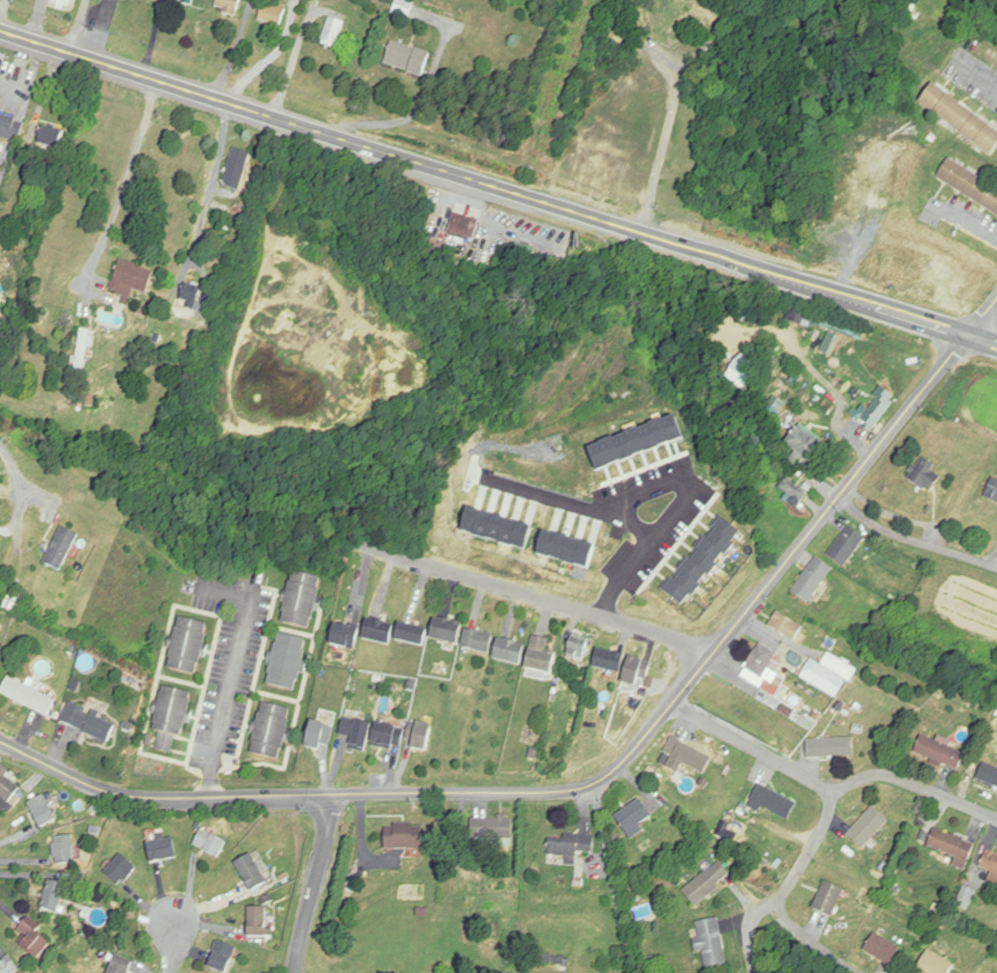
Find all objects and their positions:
building: (186, 2)
building: (64, 3)
building: (230, 7)
building: (404, 7)
road: (3, 8)
building: (273, 14)
road: (38, 20)
road: (80, 26)
building: (334, 33)
road: (149, 37)
road: (234, 49)
building: (408, 59)
road: (268, 62)
road: (975, 75)
road: (672, 108)
building: (962, 117)
building: (11, 127)
building: (237, 170)
building: (970, 184)
road: (127, 185)
road: (208, 185)
road: (498, 187)
road: (964, 219)
building: (131, 280)
building: (189, 300)
road: (982, 317)
building: (799, 318)
building: (82, 349)
building: (746, 368)
building: (804, 447)
road: (12, 470)
building: (925, 476)
building: (1, 485)
road: (517, 485)
building: (992, 489)
building: (793, 490)
building: (0, 537)
road: (914, 539)
road: (651, 544)
building: (846, 545)
building: (61, 548)
building: (812, 579)
road: (222, 592)
road: (540, 596)
building: (302, 601)
building: (787, 626)
building: (447, 631)
building: (379, 632)
building: (411, 634)
building: (345, 636)
building: (478, 642)
building: (188, 647)
building: (577, 651)
building: (509, 652)
building: (541, 656)
building: (793, 656)
parking lot: (231, 659)
building: (609, 661)
building: (287, 663)
building: (637, 671)
building: (830, 674)
building: (28, 696)
road: (228, 697)
building: (171, 719)
building: (89, 722)
building: (271, 732)
building: (358, 735)
building: (388, 735)
building: (320, 736)
building: (419, 736)
building: (831, 747)
road: (753, 748)
building: (940, 751)
building: (686, 757)
building: (989, 775)
road: (916, 784)
building: (7, 788)
road: (583, 788)
building: (774, 802)
building: (42, 811)
building: (633, 819)
building: (869, 827)
building: (492, 830)
building: (404, 836)
building: (210, 843)
building: (953, 846)
building: (571, 847)
road: (806, 849)
building: (64, 850)
building: (163, 850)
building: (991, 866)
building: (121, 870)
building: (252, 872)
road: (619, 877)
building: (708, 883)
road: (316, 885)
building: (54, 897)
building: (829, 898)
building: (258, 923)
road: (751, 934)
road: (814, 940)
building: (33, 941)
building: (711, 943)
road: (172, 948)
building: (883, 949)
building: (222, 957)
building: (936, 964)
building: (121, 965)
building: (8, 966)

